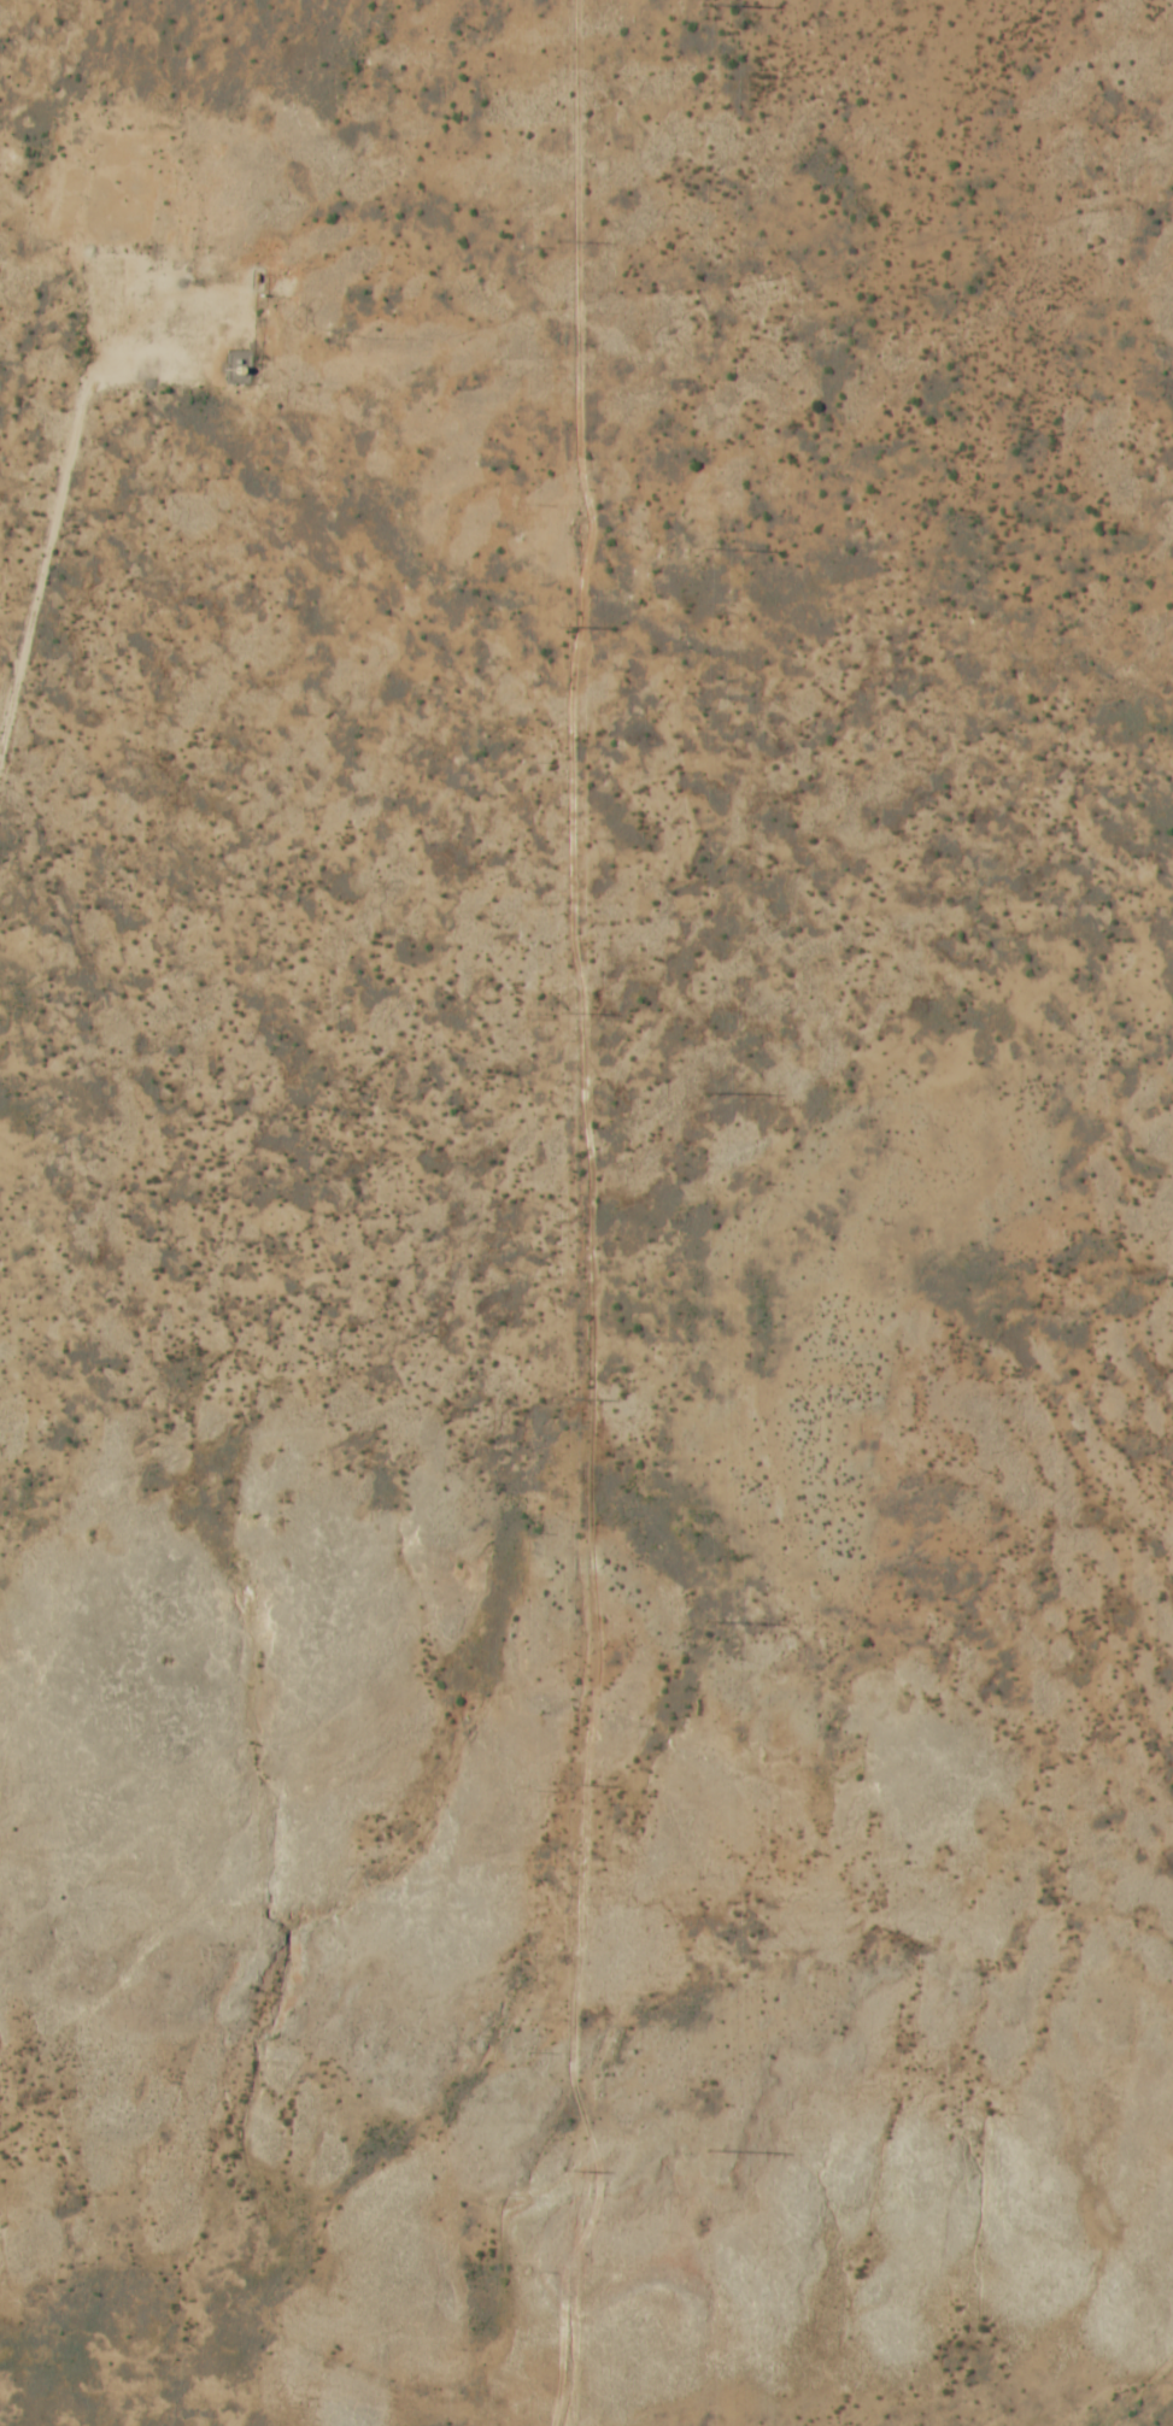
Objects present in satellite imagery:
power tower: (711, 4)
power tower: (565, 237)
road: (63, 504)
power tower: (709, 551)
power tower: (565, 627)
power tower: (565, 1012)
power tower: (712, 1093)
power tower: (574, 1393)
power tower: (712, 1622)
power tower: (569, 1782)
power tower: (712, 2151)
power tower: (571, 2169)

